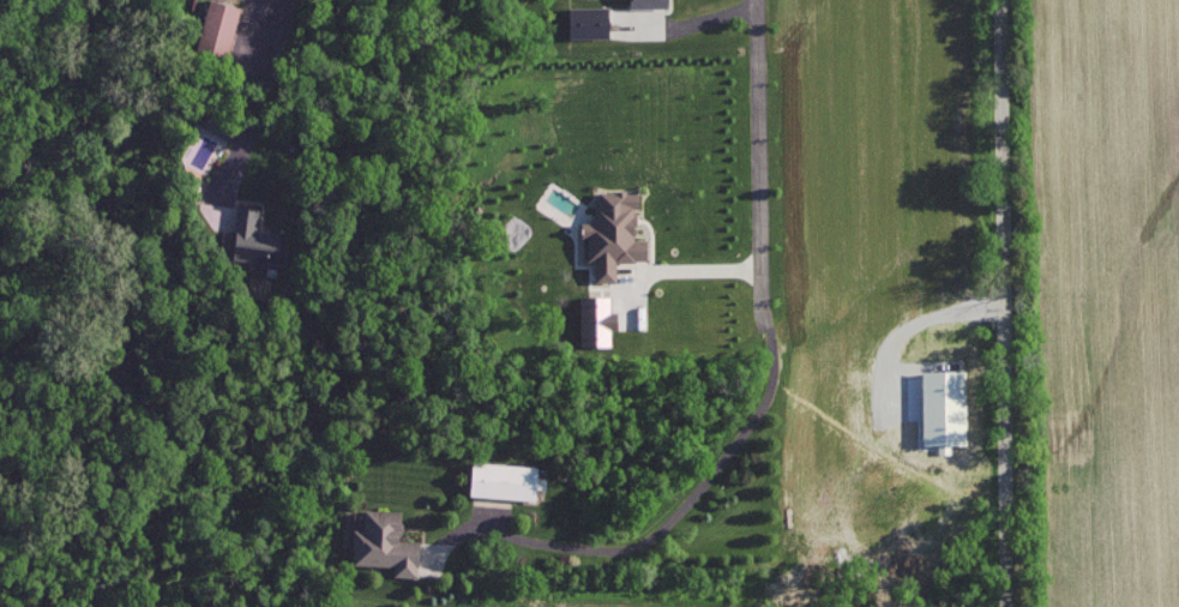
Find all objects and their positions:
building: (648, 2)
building: (589, 20)
road: (690, 22)
building: (218, 26)
road: (273, 62)
building: (221, 124)
building: (613, 233)
building: (255, 239)
road: (696, 270)
road: (999, 303)
building: (597, 319)
road: (775, 363)
building: (505, 479)
building: (385, 542)

